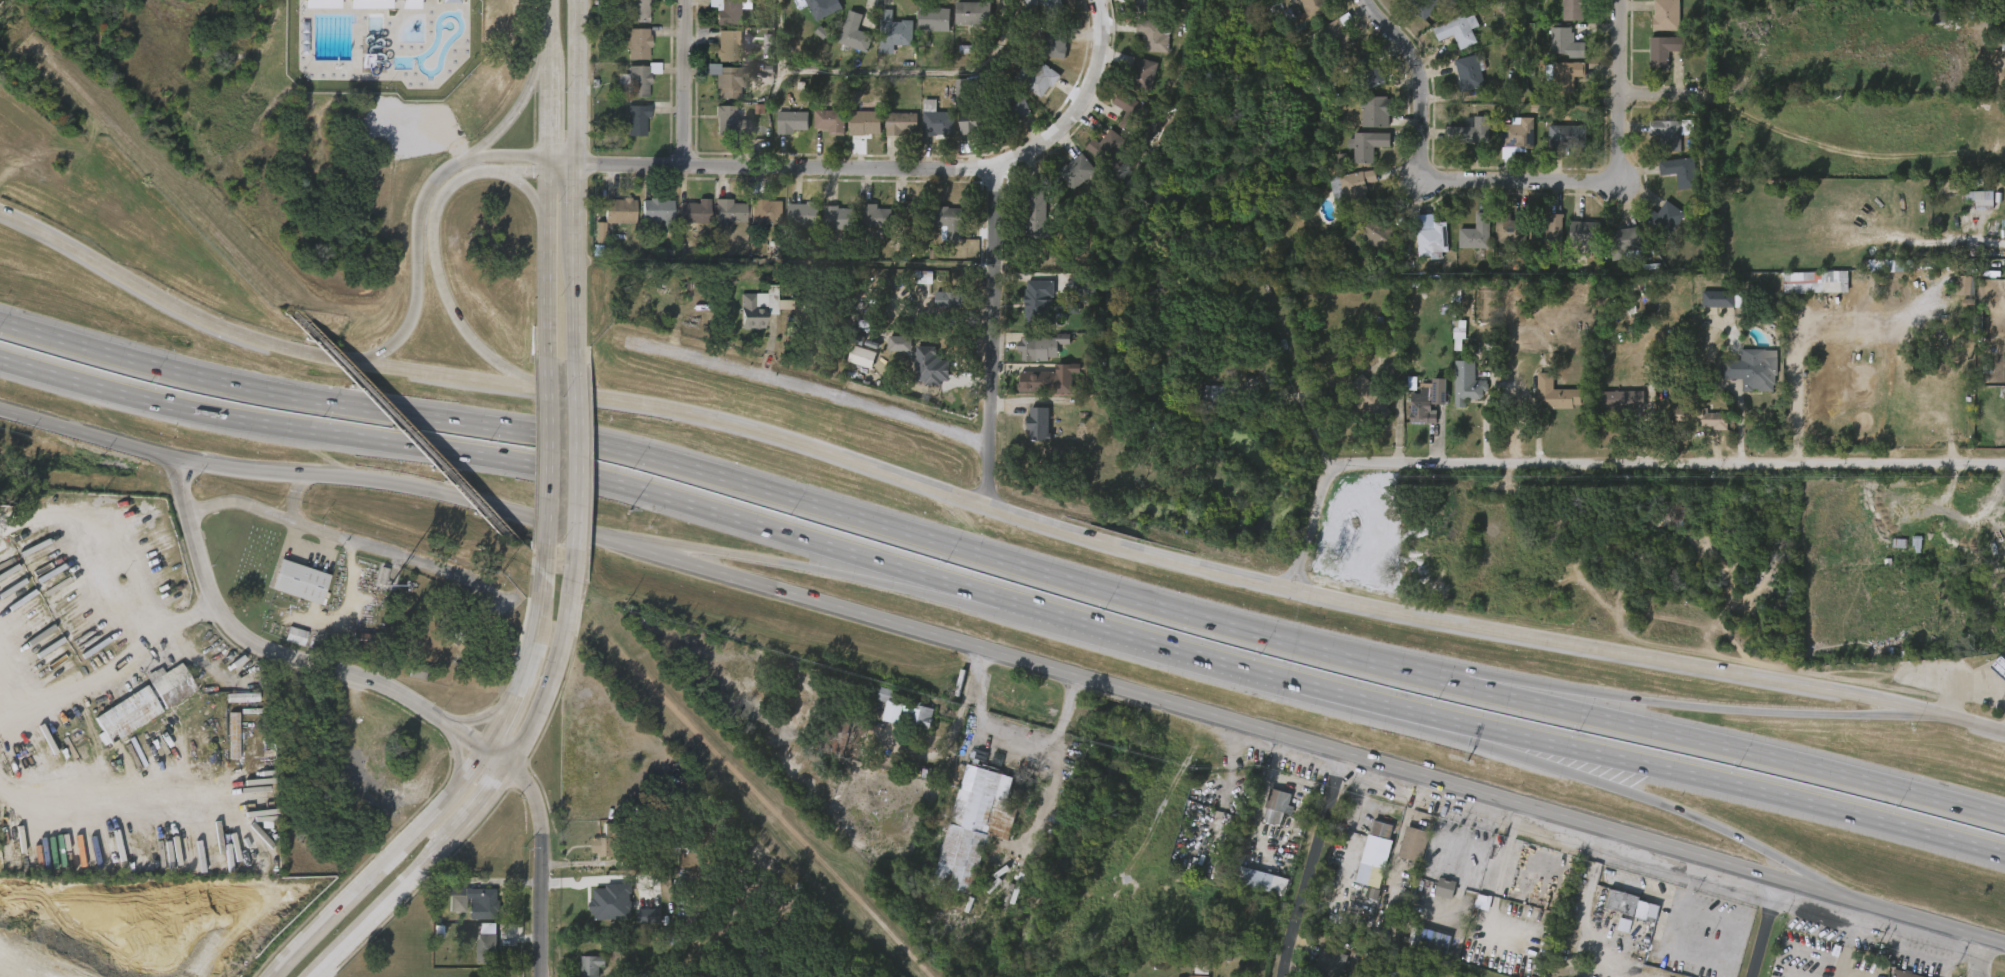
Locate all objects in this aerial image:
building: (1148, 5)
building: (1423, 6)
building: (822, 7)
building: (1318, 8)
building: (1046, 9)
building: (1572, 9)
building: (635, 11)
building: (728, 11)
building: (971, 13)
building: (1665, 15)
building: (931, 17)
building: (1301, 18)
building: (718, 19)
building: (958, 23)
building: (1656, 25)
building: (925, 30)
building: (1458, 30)
building: (856, 31)
building: (895, 32)
building: (1153, 34)
building: (1337, 36)
building: (1448, 40)
building: (2002, 41)
building: (1053, 42)
building: (1565, 42)
building: (845, 43)
building: (886, 43)
building: (635, 44)
building: (727, 45)
building: (1142, 45)
building: (1663, 49)
building: (1553, 52)
building: (1044, 55)
building: (719, 56)
building: (1654, 60)
building: (1371, 71)
road: (882, 72)
building: (1469, 72)
building: (1141, 74)
building: (1565, 75)
building: (637, 78)
building: (1036, 78)
road: (1618, 80)
building: (731, 81)
road: (686, 83)
building: (1459, 83)
building: (1363, 89)
road: (1643, 90)
building: (719, 93)
building: (1928, 93)
road: (1080, 104)
building: (1010, 108)
building: (1377, 111)
building: (1130, 112)
building: (920, 115)
road: (512, 116)
park: (349, 117)
park: (304, 119)
building: (635, 119)
building: (830, 120)
building: (935, 120)
building: (731, 121)
building: (973, 121)
building: (1118, 121)
building: (792, 122)
building: (1365, 122)
building: (867, 123)
building: (902, 124)
building: (628, 130)
building: (821, 131)
building: (720, 132)
building: (782, 132)
building: (1470, 132)
building: (1669, 132)
building: (856, 133)
building: (961, 133)
building: (1517, 133)
building: (892, 134)
building: (928, 134)
building: (1566, 136)
building: (1460, 142)
building: (1656, 142)
building: (1370, 144)
building: (1508, 144)
building: (1556, 146)
building: (1111, 152)
building: (1357, 155)
building: (1094, 156)
road: (512, 157)
railway: (148, 159)
road: (772, 166)
building: (1075, 171)
building: (1683, 171)
road: (517, 173)
road: (1431, 176)
road: (549, 178)
road: (577, 181)
building: (1669, 181)
building: (1355, 188)
building: (1981, 199)
building: (1970, 207)
building: (616, 211)
building: (657, 211)
building: (728, 211)
building: (693, 212)
building: (763, 214)
building: (801, 215)
building: (1040, 215)
building: (873, 216)
building: (912, 217)
building: (837, 218)
building: (1667, 218)
building: (648, 220)
building: (2002, 220)
building: (721, 221)
building: (947, 221)
building: (685, 222)
building: (1027, 224)
building: (794, 225)
building: (866, 226)
building: (830, 228)
building: (1511, 229)
building: (1656, 229)
building: (940, 232)
building: (1478, 232)
building: (1379, 233)
building: (1588, 234)
building: (1551, 236)
building: (1433, 237)
road: (437, 238)
building: (1626, 241)
building: (1500, 242)
building: (1468, 243)
building: (1576, 244)
building: (1368, 245)
building: (1420, 250)
building: (1614, 252)
building: (1059, 265)
road: (425, 269)
building: (1805, 292)
building: (1954, 295)
building: (1719, 299)
building: (1036, 301)
building: (756, 308)
building: (1708, 309)
building: (935, 310)
road: (995, 336)
building: (1041, 345)
building: (890, 354)
building: (863, 356)
building: (1031, 357)
building: (932, 366)
building: (852, 367)
building: (1752, 370)
building: (920, 375)
building: (1042, 382)
road: (813, 390)
building: (1468, 390)
building: (1035, 393)
building: (1555, 394)
building: (1212, 396)
building: (1458, 399)
building: (1621, 400)
building: (1369, 401)
building: (1546, 404)
building: (1422, 406)
building: (1612, 410)
road: (1785, 411)
building: (1704, 417)
road: (1397, 422)
road: (1740, 424)
railway: (402, 426)
building: (1691, 428)
building: (1029, 434)
road: (546, 452)
road: (493, 457)
road: (576, 457)
road: (1669, 470)
road: (1327, 492)
road: (293, 496)
road: (989, 506)
building: (1905, 542)
road: (92, 543)
road: (352, 544)
road: (673, 548)
road: (1003, 560)
road: (800, 565)
building: (300, 581)
building: (377, 585)
road: (932, 588)
road: (190, 616)
building: (456, 625)
building: (366, 640)
building: (286, 646)
road: (273, 655)
road: (1006, 656)
road: (1227, 663)
building: (1997, 668)
gas station: (1997, 668)
building: (1995, 680)
building: (171, 684)
road: (83, 685)
road: (1512, 687)
road: (1966, 697)
road: (3, 703)
road: (1705, 706)
building: (233, 707)
road: (1885, 710)
building: (907, 711)
building: (126, 715)
road: (439, 718)
building: (898, 720)
building: (839, 733)
road: (1013, 736)
building: (225, 745)
road: (1519, 748)
road: (1742, 786)
road: (453, 788)
road: (493, 790)
road: (112, 800)
road: (1665, 805)
building: (1276, 806)
building: (1266, 817)
building: (975, 825)
road: (1455, 831)
building: (1413, 843)
building: (610, 846)
road: (542, 850)
building: (1404, 853)
building: (1377, 855)
building: (593, 856)
road: (1317, 865)
road: (1794, 870)
building: (1253, 878)
building: (1445, 887)
building: (1252, 890)
building: (1435, 898)
building: (473, 902)
building: (464, 912)
building: (602, 913)
building: (1628, 914)
building: (639, 926)
road: (1765, 927)
building: (1435, 940)
building: (487, 948)
road: (1977, 956)
building: (1330, 963)
building: (592, 965)
building: (1903, 974)
building: (1201, 976)

